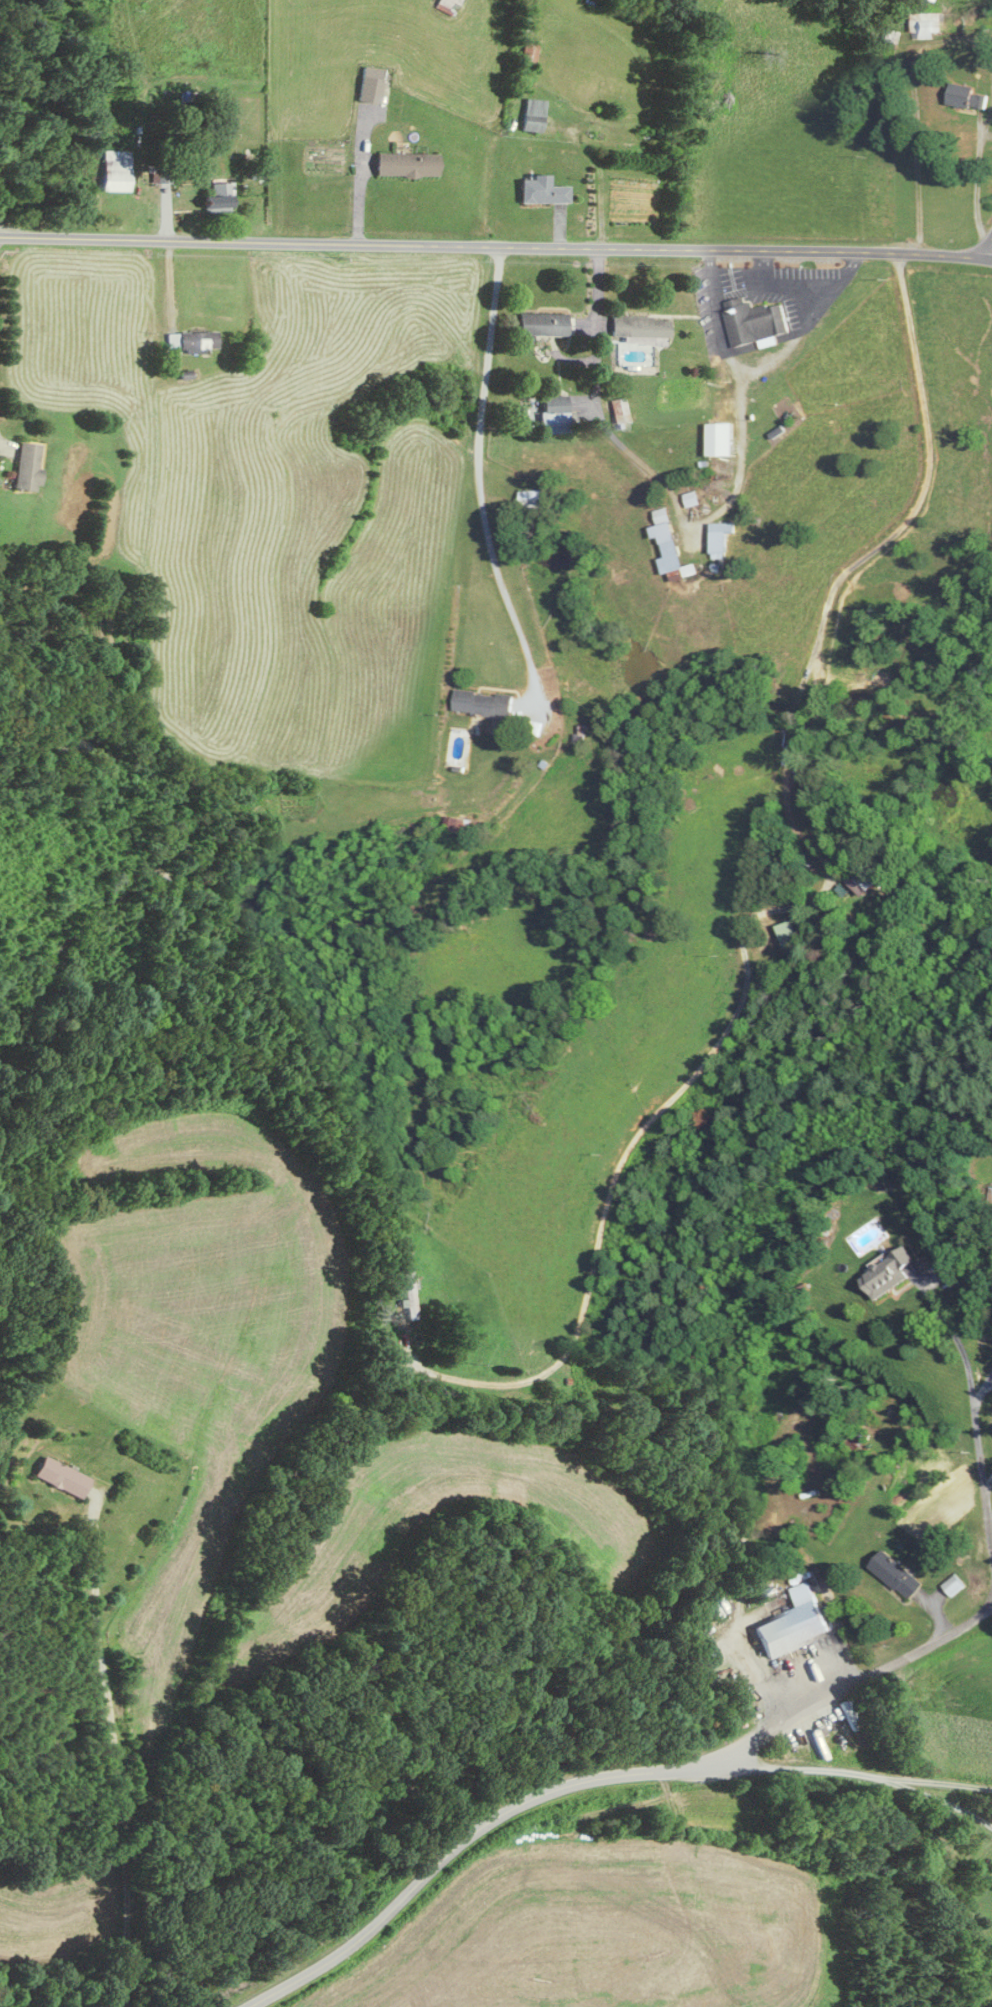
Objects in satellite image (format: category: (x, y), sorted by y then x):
building: (449, 5)
building: (924, 24)
building: (529, 52)
building: (371, 84)
building: (969, 96)
building: (533, 121)
building: (408, 164)
building: (116, 170)
road: (948, 189)
building: (543, 191)
building: (219, 198)
road: (496, 246)
road: (987, 249)
road: (783, 286)
road: (717, 317)
building: (543, 324)
building: (750, 324)
building: (639, 327)
building: (192, 342)
building: (632, 354)
building: (620, 413)
building: (554, 415)
building: (29, 466)
road: (478, 485)
building: (532, 500)
road: (705, 520)
building: (722, 539)
building: (670, 545)
road: (860, 560)
building: (965, 588)
building: (485, 703)
building: (457, 825)
building: (868, 881)
building: (794, 934)
road: (616, 1163)
building: (892, 1274)
building: (411, 1295)
road: (989, 1379)
road: (982, 1386)
road: (972, 1398)
building: (857, 1439)
building: (64, 1476)
road: (988, 1482)
road: (990, 1539)
building: (898, 1574)
building: (953, 1585)
road: (985, 1612)
building: (796, 1623)
road: (108, 1754)
road: (805, 1768)
road: (606, 1775)
road: (937, 1781)
road: (938, 1799)

